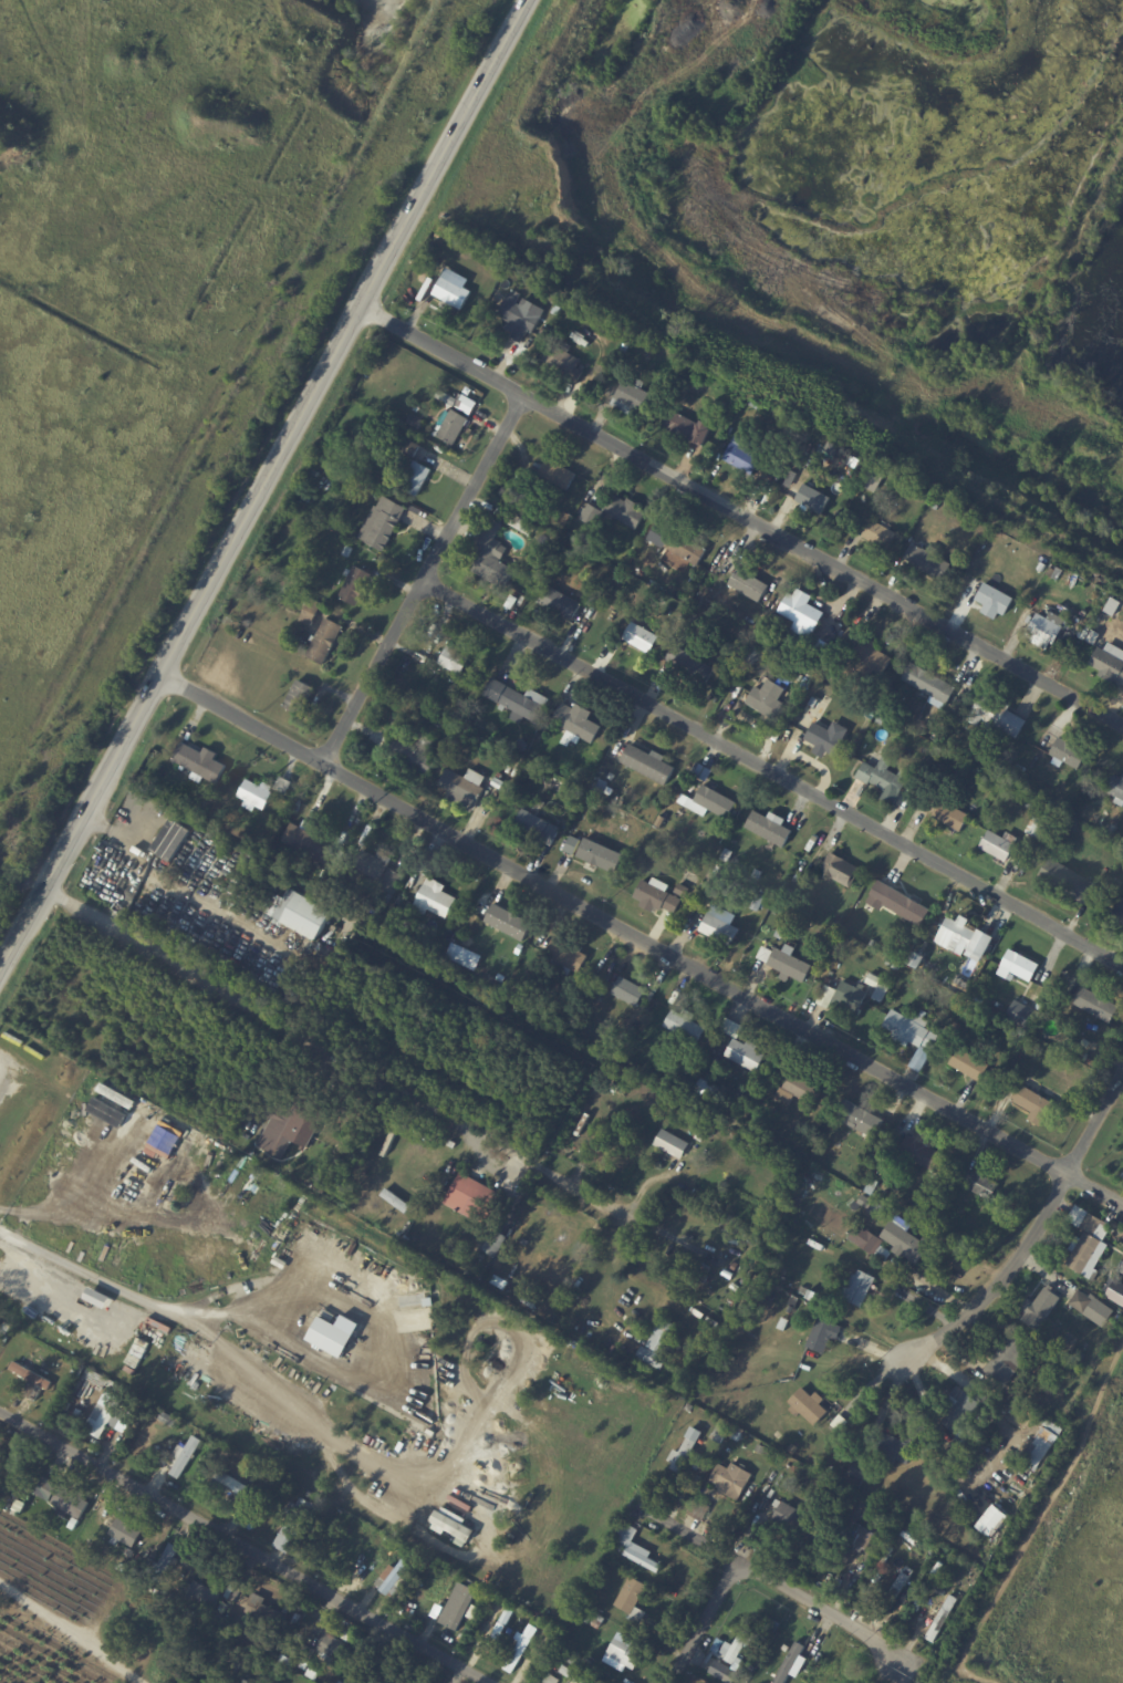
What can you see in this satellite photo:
building: (453, 291)
building: (558, 309)
building: (519, 316)
building: (547, 331)
building: (628, 345)
building: (565, 362)
building: (694, 368)
building: (448, 397)
building: (633, 397)
building: (758, 403)
building: (416, 420)
building: (454, 426)
building: (688, 427)
building: (409, 447)
building: (839, 449)
building: (746, 455)
building: (322, 466)
building: (861, 466)
building: (559, 476)
building: (416, 477)
building: (875, 477)
road: (264, 488)
building: (922, 496)
building: (814, 500)
building: (937, 507)
building: (626, 510)
building: (593, 515)
building: (566, 518)
building: (383, 522)
road: (739, 522)
building: (524, 524)
building: (666, 529)
building: (563, 532)
building: (881, 533)
building: (572, 537)
building: (689, 546)
building: (349, 550)
building: (495, 557)
building: (929, 561)
building: (1041, 568)
building: (539, 571)
building: (1057, 572)
building: (356, 584)
building: (749, 585)
road: (423, 590)
building: (1098, 591)
building: (594, 595)
building: (727, 599)
building: (996, 601)
building: (561, 602)
building: (708, 605)
building: (311, 613)
building: (803, 613)
building: (1023, 616)
building: (1048, 628)
building: (843, 633)
building: (440, 635)
building: (642, 636)
building: (325, 641)
building: (866, 653)
building: (757, 655)
building: (456, 658)
building: (433, 662)
building: (1110, 662)
building: (690, 666)
building: (930, 683)
building: (300, 697)
building: (769, 698)
building: (519, 699)
building: (998, 716)
building: (881, 721)
building: (440, 723)
building: (578, 724)
building: (939, 736)
building: (823, 737)
building: (1070, 751)
building: (416, 754)
building: (200, 762)
building: (651, 765)
building: (996, 765)
building: (705, 772)
road: (773, 772)
building: (886, 778)
building: (499, 783)
building: (283, 786)
building: (470, 787)
building: (601, 787)
building: (1116, 787)
building: (692, 788)
building: (1030, 790)
building: (257, 793)
building: (713, 802)
building: (206, 810)
building: (953, 815)
building: (663, 821)
building: (538, 823)
building: (1041, 825)
building: (771, 828)
building: (309, 841)
building: (1000, 845)
building: (1047, 845)
building: (589, 854)
building: (729, 855)
building: (374, 864)
building: (841, 870)
building: (324, 874)
building: (759, 874)
building: (865, 875)
building: (393, 881)
building: (1069, 881)
building: (683, 890)
road: (176, 896)
building: (658, 896)
building: (436, 898)
building: (387, 900)
building: (759, 902)
building: (898, 902)
building: (860, 913)
building: (1119, 915)
building: (306, 916)
building: (507, 922)
building: (721, 926)
building: (781, 934)
road: (642, 938)
building: (963, 938)
building: (833, 939)
building: (874, 943)
building: (906, 950)
building: (462, 956)
building: (568, 956)
building: (918, 960)
building: (788, 963)
building: (1020, 966)
building: (890, 977)
building: (502, 979)
building: (953, 985)
building: (881, 988)
building: (964, 993)
building: (633, 994)
building: (853, 995)
building: (1048, 995)
building: (828, 997)
building: (959, 1004)
building: (1098, 1005)
building: (674, 1006)
building: (1022, 1016)
building: (637, 1019)
building: (958, 1026)
building: (688, 1027)
building: (914, 1030)
building: (747, 1055)
road: (332, 1056)
building: (970, 1064)
road: (0, 1074)
building: (805, 1092)
building: (1034, 1104)
road: (1096, 1115)
building: (862, 1119)
building: (297, 1122)
building: (370, 1136)
building: (700, 1136)
building: (389, 1144)
building: (453, 1144)
building: (673, 1144)
building: (876, 1146)
building: (209, 1156)
building: (926, 1156)
building: (883, 1185)
building: (982, 1185)
road: (69, 1193)
building: (476, 1201)
building: (924, 1213)
building: (507, 1222)
building: (903, 1240)
building: (526, 1242)
building: (870, 1242)
building: (496, 1244)
building: (1091, 1248)
building: (554, 1256)
building: (1122, 1261)
building: (1122, 1264)
building: (700, 1271)
road: (999, 1277)
building: (859, 1288)
building: (812, 1296)
building: (1120, 1297)
building: (483, 1299)
building: (1083, 1302)
building: (1042, 1309)
building: (792, 1310)
road: (204, 1321)
building: (714, 1322)
road: (394, 1328)
building: (4, 1329)
building: (153, 1331)
building: (825, 1334)
building: (330, 1336)
building: (665, 1338)
building: (522, 1354)
building: (703, 1358)
building: (653, 1359)
building: (1010, 1360)
building: (842, 1361)
building: (30, 1376)
building: (887, 1402)
building: (809, 1406)
building: (692, 1409)
building: (703, 1413)
building: (108, 1414)
building: (128, 1417)
building: (169, 1419)
building: (840, 1423)
building: (961, 1431)
building: (721, 1434)
building: (740, 1435)
building: (1039, 1445)
building: (900, 1448)
building: (762, 1450)
building: (687, 1451)
building: (186, 1456)
building: (1, 1462)
building: (699, 1463)
building: (796, 1469)
building: (861, 1469)
building: (833, 1471)
building: (802, 1475)
building: (852, 1479)
building: (730, 1483)
building: (48, 1487)
building: (233, 1488)
building: (854, 1490)
building: (70, 1502)
building: (699, 1510)
building: (874, 1513)
building: (990, 1520)
building: (73, 1523)
building: (294, 1523)
building: (798, 1523)
building: (451, 1525)
building: (849, 1525)
building: (126, 1531)
building: (85, 1537)
building: (864, 1537)
building: (396, 1541)
road: (245, 1546)
building: (634, 1547)
building: (129, 1552)
building: (420, 1558)
building: (166, 1562)
building: (839, 1566)
building: (959, 1569)
road: (731, 1572)
building: (397, 1578)
building: (599, 1579)
road: (768, 1582)
building: (187, 1587)
building: (206, 1591)
building: (943, 1592)
building: (230, 1598)
building: (633, 1599)
building: (454, 1600)
building: (261, 1610)
building: (588, 1614)
building: (575, 1619)
building: (943, 1620)
building: (599, 1621)
road: (71, 1632)
building: (741, 1645)
building: (372, 1646)
building: (334, 1648)
building: (522, 1648)
building: (792, 1650)
building: (623, 1652)
building: (570, 1658)
building: (278, 1668)
building: (722, 1670)
building: (792, 1672)
building: (575, 1674)
building: (396, 1676)
building: (552, 1679)
building: (208, 1682)

